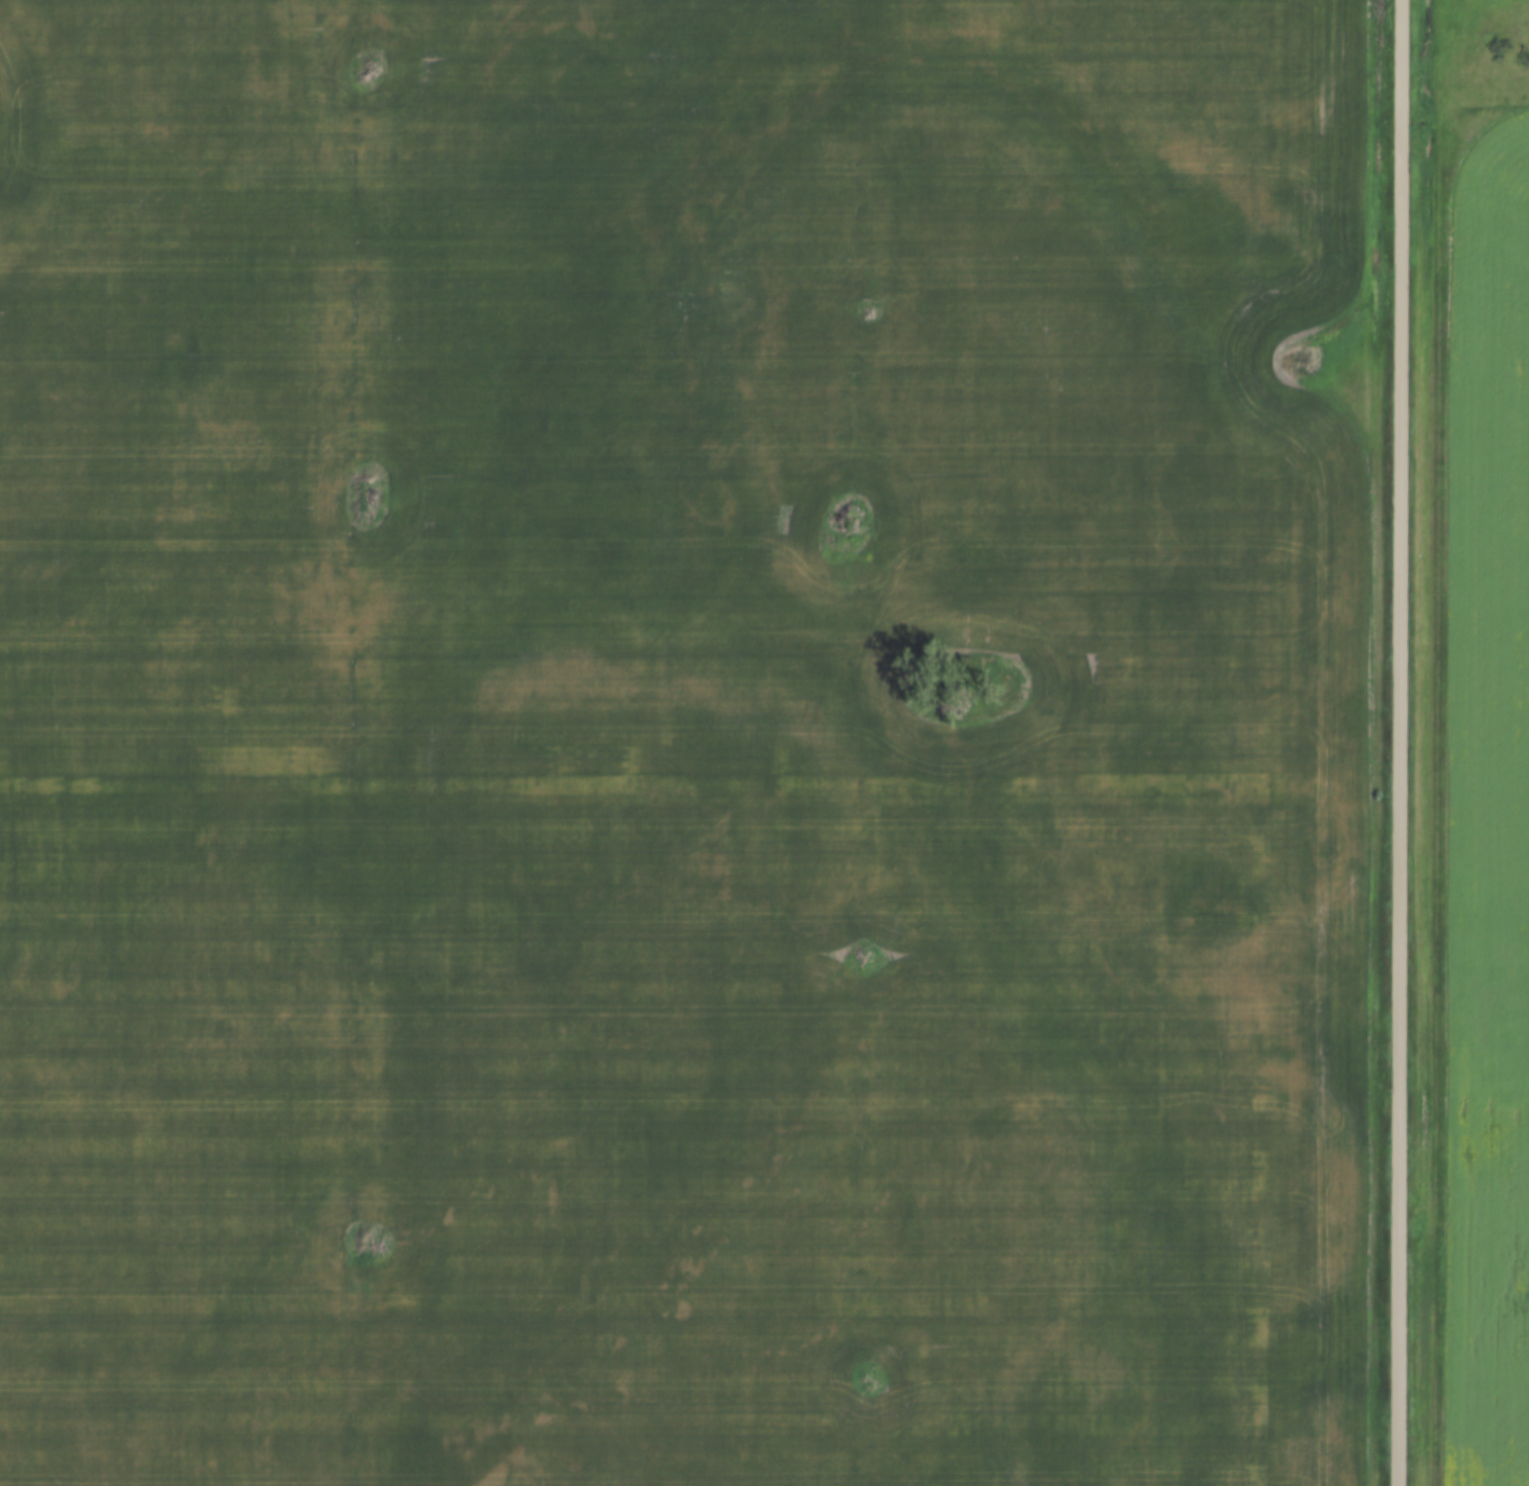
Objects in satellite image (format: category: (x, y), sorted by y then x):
road: (1397, 742)

